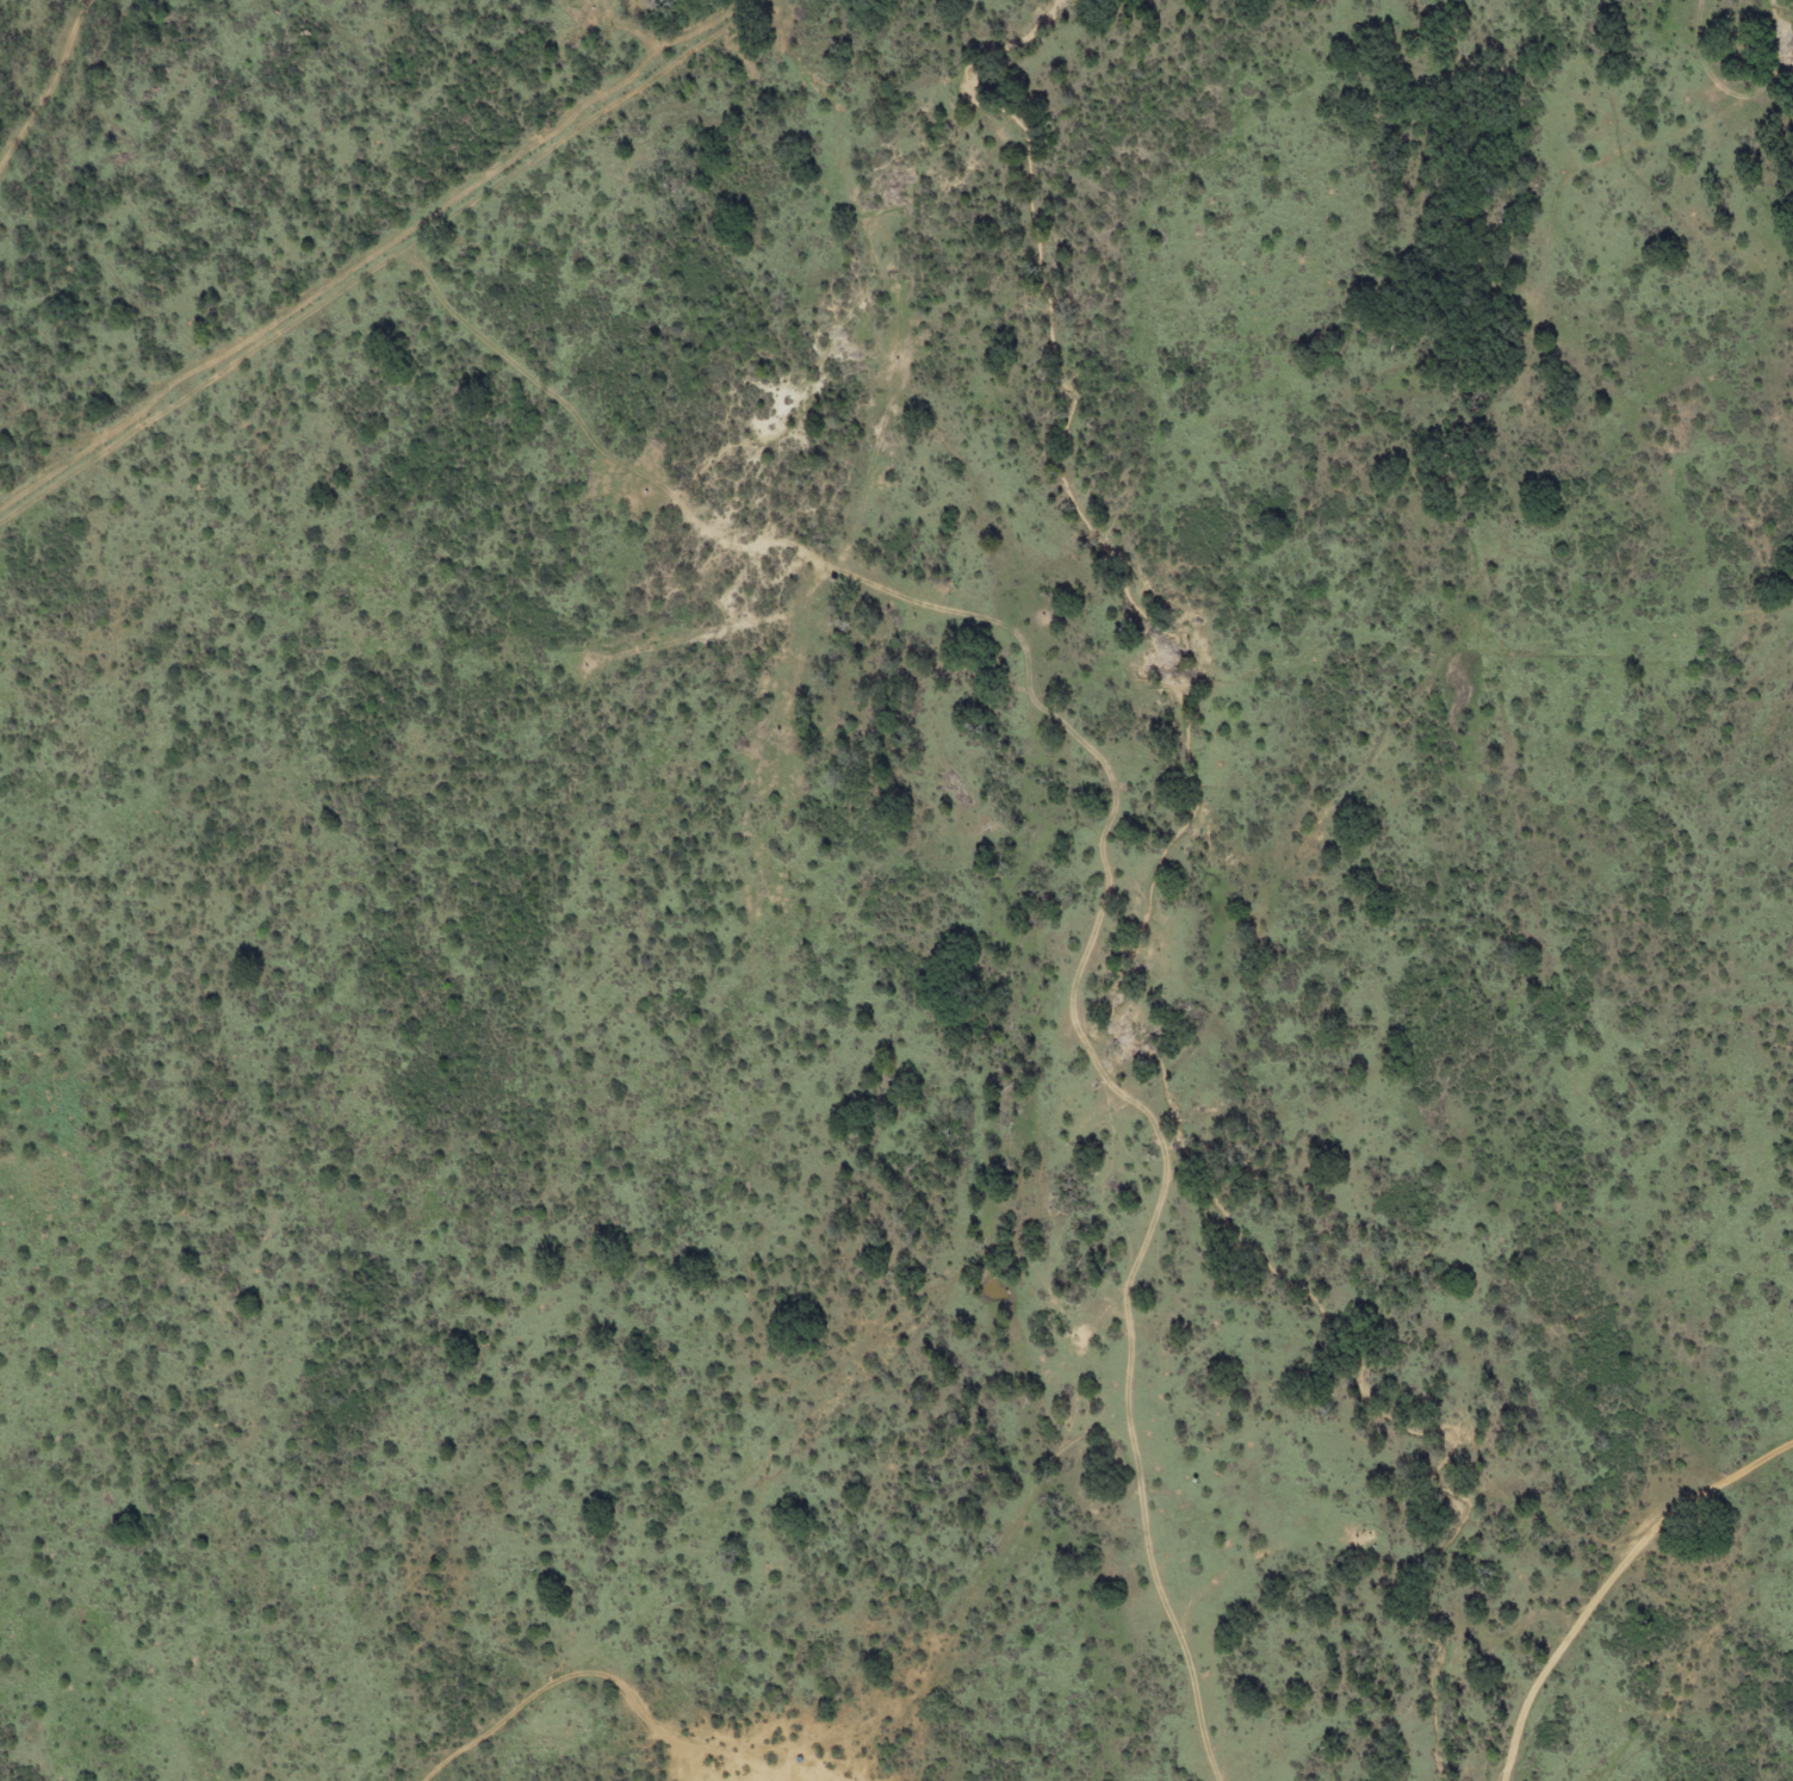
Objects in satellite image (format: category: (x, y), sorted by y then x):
road: (1611, 1580)

